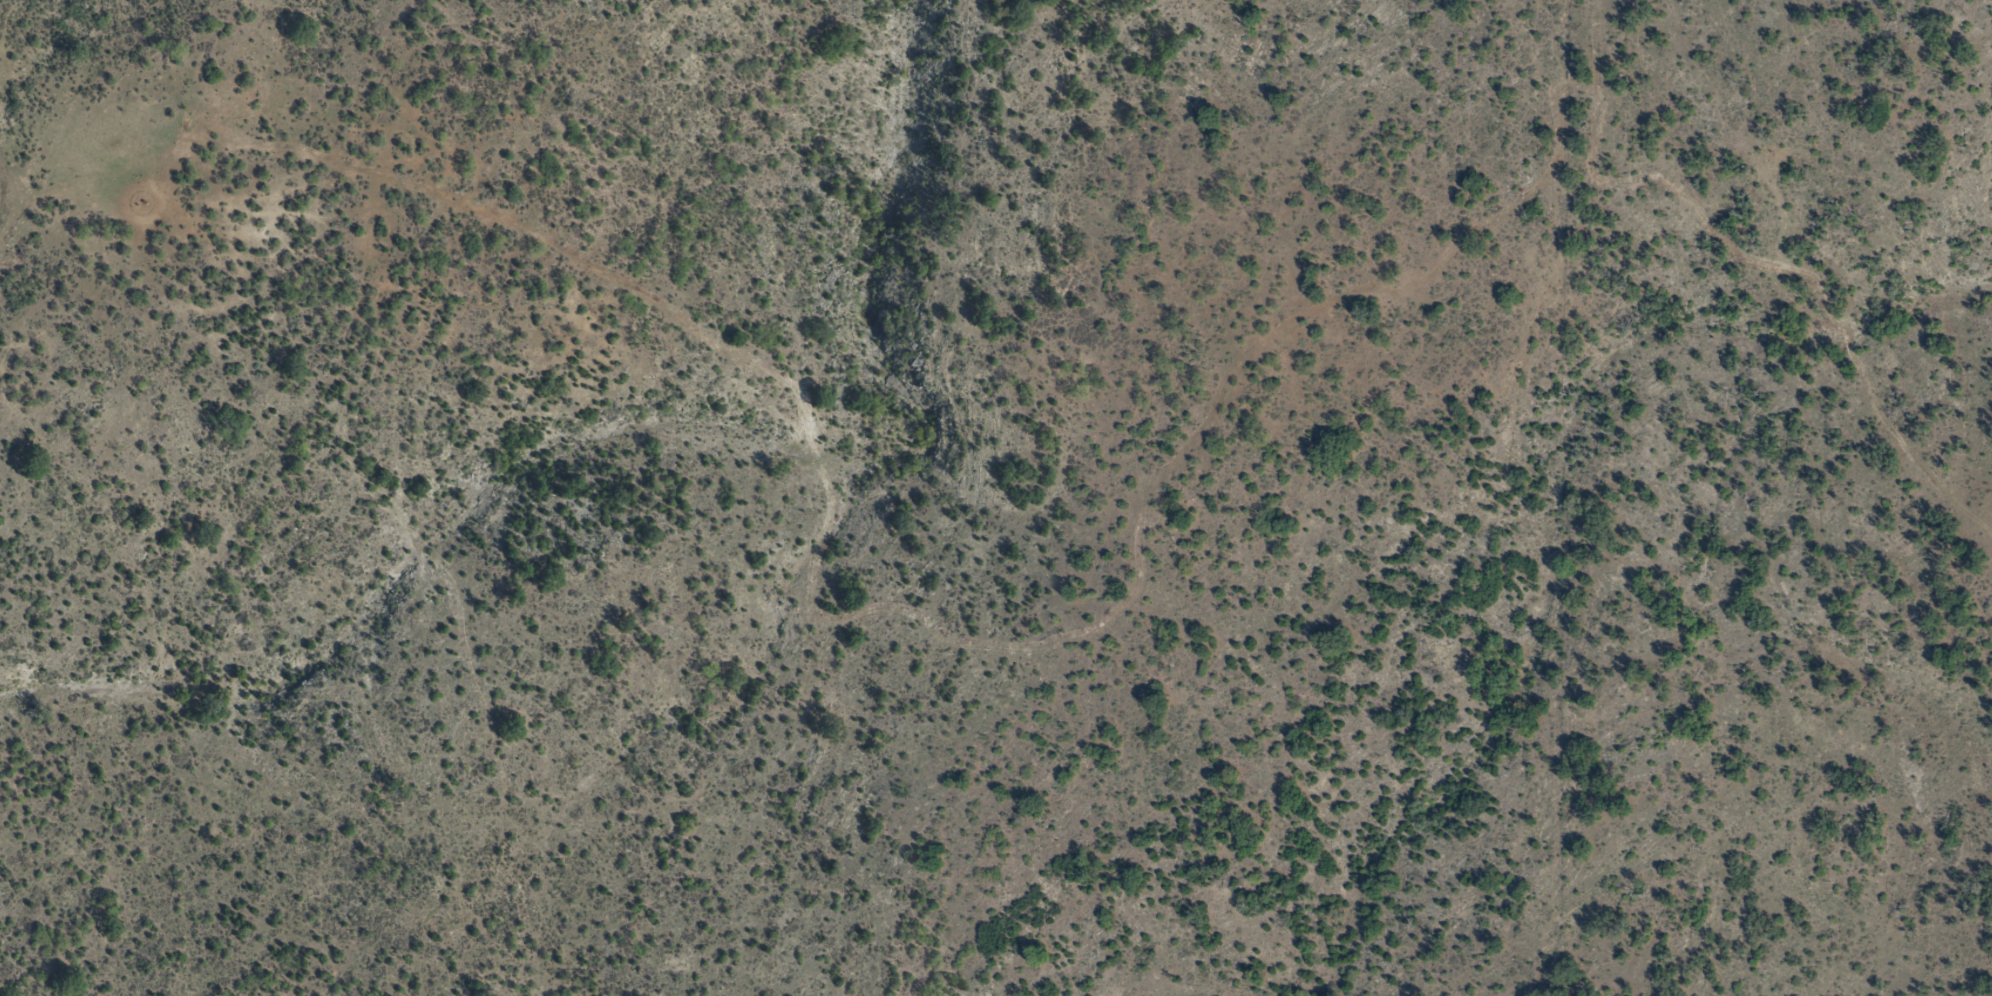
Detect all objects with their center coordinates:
road: (22, 199)

